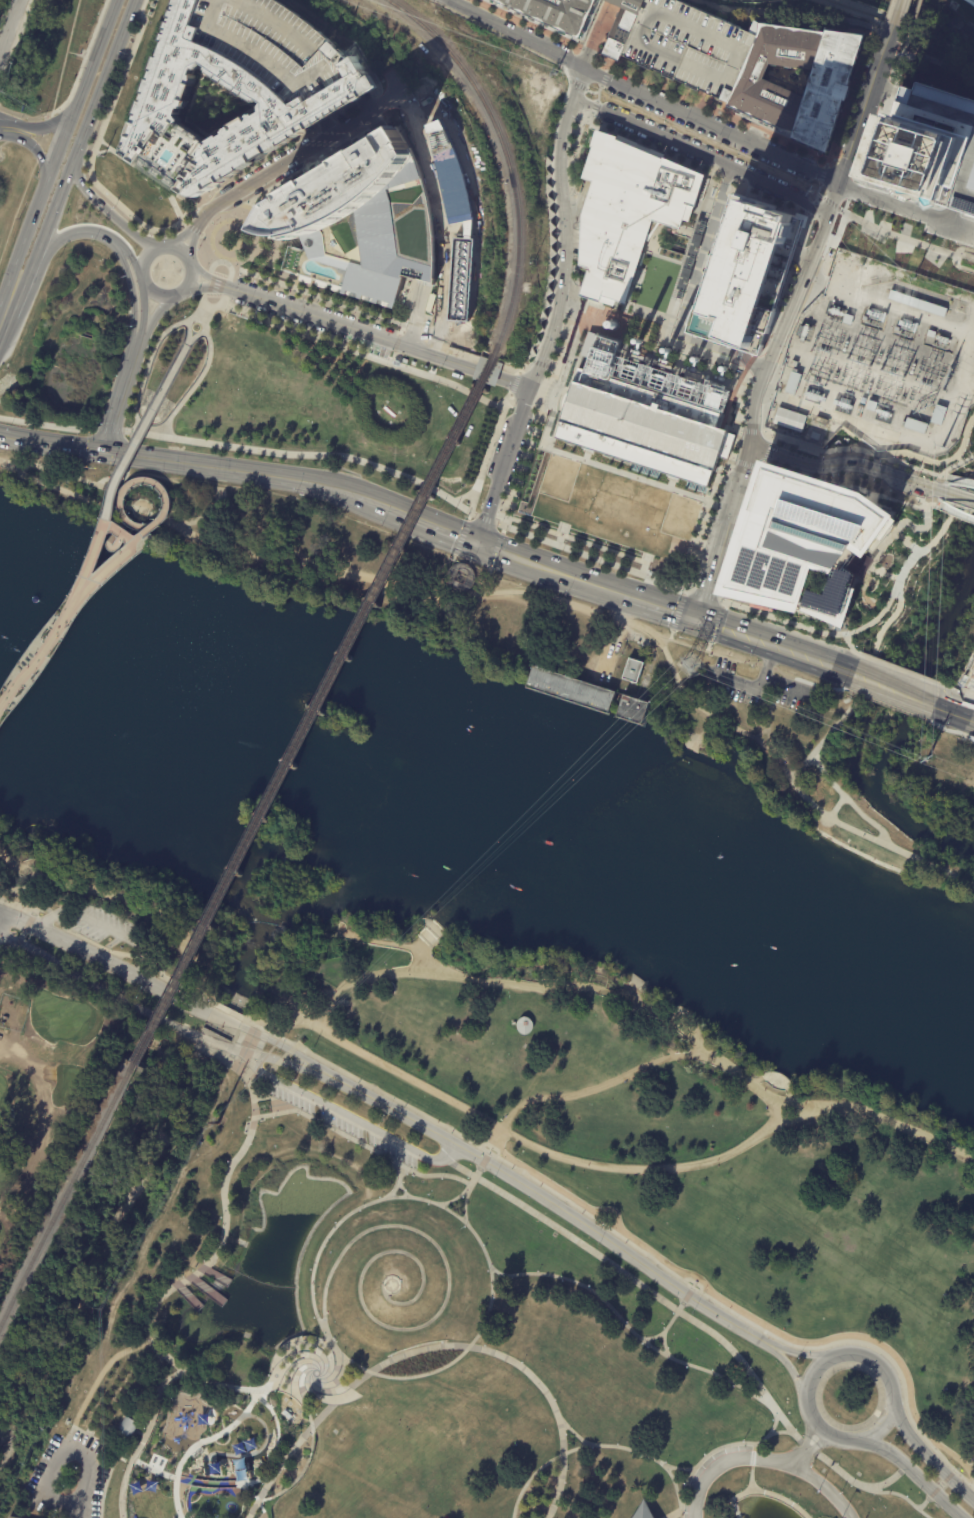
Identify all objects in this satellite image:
building: (971, 2)
road: (850, 11)
road: (887, 11)
road: (784, 12)
road: (895, 12)
building: (551, 13)
road: (911, 20)
road: (9, 23)
building: (618, 25)
road: (882, 27)
road: (910, 28)
road: (879, 31)
road: (596, 38)
building: (689, 45)
parking lot: (689, 45)
road: (910, 47)
road: (75, 54)
road: (94, 57)
road: (929, 58)
road: (359, 60)
road: (83, 61)
building: (357, 61)
road: (363, 62)
road: (610, 67)
power tower: (554, 73)
road: (874, 73)
road: (103, 79)
road: (604, 79)
road: (653, 79)
road: (569, 82)
road: (58, 83)
road: (578, 83)
road: (577, 85)
building: (759, 86)
road: (884, 86)
parking lot: (647, 88)
road: (375, 91)
road: (594, 93)
road: (641, 94)
road: (851, 95)
road: (598, 98)
building: (305, 99)
road: (361, 100)
road: (406, 104)
road: (700, 106)
road: (594, 107)
road: (343, 112)
road: (879, 112)
road: (371, 115)
road: (591, 117)
road: (325, 123)
road: (581, 123)
road: (43, 128)
road: (646, 129)
road: (5, 131)
parking lot: (707, 133)
parking lot: (752, 134)
road: (359, 136)
road: (593, 136)
road: (334, 137)
parking lot: (653, 140)
road: (104, 145)
parking lot: (700, 145)
park: (4, 147)
road: (552, 149)
building: (917, 149)
road: (337, 150)
road: (57, 151)
road: (327, 152)
road: (36, 154)
railway: (505, 158)
road: (292, 159)
road: (829, 160)
building: (963, 161)
road: (826, 164)
road: (844, 164)
road: (841, 169)
road: (857, 172)
road: (145, 174)
road: (727, 174)
road: (822, 175)
road: (716, 182)
road: (723, 184)
road: (774, 186)
road: (730, 187)
road: (434, 190)
park: (144, 191)
parking lot: (767, 191)
power tower: (810, 191)
road: (852, 191)
road: (817, 194)
road: (262, 196)
road: (181, 197)
road: (820, 197)
road: (580, 201)
road: (827, 201)
road: (893, 205)
road: (834, 206)
road: (891, 208)
road: (813, 209)
road: (126, 211)
building: (627, 211)
road: (53, 213)
road: (107, 213)
building: (456, 213)
road: (953, 215)
road: (887, 220)
building: (358, 221)
road: (184, 223)
street lamp: (857, 228)
building: (651, 229)
road: (194, 230)
road: (803, 230)
road: (884, 230)
road: (948, 231)
road: (24, 235)
road: (101, 235)
road: (895, 237)
road: (179, 239)
road: (944, 243)
road: (572, 244)
road: (655, 244)
road: (564, 245)
road: (51, 246)
road: (189, 246)
road: (962, 249)
road: (942, 250)
road: (206, 252)
road: (796, 252)
road: (642, 254)
road: (802, 255)
road: (709, 256)
road: (964, 256)
road: (662, 258)
road: (132, 261)
building: (687, 261)
power tower: (862, 265)
road: (960, 267)
road: (221, 269)
building: (746, 273)
road: (202, 274)
road: (24, 276)
road: (636, 277)
power tower: (913, 279)
road: (815, 281)
road: (216, 284)
road: (692, 285)
road: (197, 288)
road: (799, 292)
road: (312, 294)
parking lot: (227, 295)
road: (166, 298)
road: (212, 298)
road: (130, 300)
road: (440, 300)
road: (587, 301)
road: (592, 301)
road: (7, 304)
parking lot: (310, 304)
building: (918, 304)
road: (625, 305)
road: (605, 307)
road: (778, 308)
road: (142, 309)
road: (900, 309)
road: (595, 310)
road: (623, 310)
road: (204, 311)
road: (647, 313)
road: (415, 314)
road: (625, 314)
road: (155, 315)
road: (630, 316)
building: (848, 320)
chimney: (613, 325)
road: (637, 327)
parking lot: (317, 328)
road: (400, 329)
road: (201, 330)
road: (401, 332)
road: (622, 333)
building: (932, 334)
road: (373, 335)
road: (412, 335)
road: (660, 335)
road: (617, 339)
chimney: (638, 341)
road: (187, 342)
road: (139, 343)
road: (396, 343)
park: (82, 344)
road: (573, 345)
road: (581, 348)
road: (655, 350)
chimney: (667, 351)
road: (740, 351)
road: (358, 352)
road: (339, 355)
road: (393, 357)
building: (397, 358)
road: (680, 359)
road: (748, 359)
road: (477, 360)
chimney: (695, 360)
power substation: (878, 361)
railway: (750, 362)
road: (336, 363)
road: (540, 364)
road: (360, 367)
road: (146, 368)
road: (551, 368)
road: (668, 368)
chimney: (722, 369)
road: (518, 372)
road: (128, 376)
road: (733, 376)
road: (558, 377)
building: (793, 383)
road: (514, 384)
road: (193, 385)
road: (543, 392)
road: (737, 395)
road: (552, 396)
power tower: (972, 396)
road: (554, 397)
railway: (731, 398)
road: (559, 399)
road: (561, 399)
building: (564, 400)
road: (566, 401)
road: (764, 402)
park: (314, 404)
road: (752, 404)
building: (872, 407)
building: (860, 410)
road: (827, 413)
building: (645, 414)
building: (938, 416)
road: (550, 418)
building: (790, 420)
road: (47, 426)
road: (112, 426)
road: (723, 426)
building: (914, 426)
road: (405, 427)
road: (730, 428)
road: (109, 430)
road: (740, 431)
road: (751, 431)
road: (132, 438)
road: (772, 440)
road: (20, 441)
road: (490, 446)
parking lot: (498, 446)
parking lot: (519, 446)
power tower: (942, 447)
road: (72, 449)
road: (588, 450)
road: (768, 451)
traffic signals: (103, 453)
road: (126, 455)
road: (306, 455)
road: (586, 457)
road: (971, 457)
road: (124, 459)
road: (966, 459)
road: (732, 460)
road: (922, 460)
road: (958, 460)
road: (938, 462)
road: (503, 463)
road: (758, 463)
road: (960, 463)
road: (743, 464)
road: (846, 464)
road: (0, 465)
road: (206, 466)
road: (954, 467)
road: (920, 468)
road: (615, 471)
road: (945, 472)
road: (672, 477)
road: (717, 478)
road: (850, 478)
road: (112, 479)
road: (941, 480)
road: (959, 480)
road: (669, 484)
road: (843, 484)
road: (94, 485)
parking lot: (906, 489)
road: (938, 490)
road: (121, 492)
parking lot: (722, 492)
road: (957, 496)
road: (462, 498)
road: (935, 500)
road: (92, 503)
road: (119, 506)
road: (926, 507)
road: (394, 508)
road: (471, 509)
road: (118, 510)
road: (954, 512)
road: (742, 513)
road: (338, 514)
road: (926, 517)
road: (204, 519)
road: (486, 519)
road: (725, 520)
road: (125, 521)
road: (155, 521)
road: (124, 522)
road: (904, 522)
road: (563, 524)
road: (925, 526)
road: (147, 527)
road: (262, 528)
road: (914, 528)
road: (503, 530)
road: (117, 533)
road: (737, 534)
road: (936, 535)
road: (461, 538)
road: (558, 538)
road: (575, 539)
traffic signals: (478, 540)
road: (904, 541)
parking lot: (707, 542)
building: (807, 546)
road: (109, 548)
road: (879, 548)
road: (495, 551)
road: (647, 554)
road: (453, 557)
road: (592, 558)
road: (854, 560)
road: (554, 565)
road: (643, 567)
road: (323, 568)
road: (488, 570)
road: (875, 570)
road: (894, 578)
road: (727, 579)
road: (732, 582)
road: (86, 583)
road: (745, 590)
road: (684, 591)
road: (850, 591)
road: (505, 595)
road: (704, 595)
road: (663, 603)
road: (723, 604)
road: (760, 604)
road: (699, 605)
road: (796, 606)
road: (677, 612)
road: (607, 614)
traffic signals: (696, 615)
road: (716, 624)
road: (813, 630)
road: (845, 631)
park: (507, 633)
road: (671, 634)
road: (614, 638)
road: (775, 643)
road: (708, 646)
road: (849, 646)
road: (651, 655)
road: (740, 661)
power tower: (690, 663)
road: (901, 670)
building: (633, 671)
road: (968, 681)
building: (972, 681)
road: (677, 683)
road: (781, 683)
building: (569, 687)
road: (894, 687)
road: (756, 689)
road: (957, 691)
road: (887, 705)
building: (632, 708)
road: (954, 708)
railway: (313, 710)
road: (768, 714)
road: (835, 726)
road: (950, 730)
road: (760, 732)
road: (755, 739)
power tower: (924, 759)
road: (801, 767)
park: (936, 774)
river: (486, 801)
road: (836, 806)
road: (876, 840)
road: (22, 888)
road: (118, 896)
road: (26, 909)
road: (33, 914)
road: (53, 914)
road: (52, 916)
road: (16, 920)
road: (28, 924)
parking lot: (102, 926)
road: (106, 928)
road: (435, 928)
road: (443, 932)
road: (23, 935)
road: (19, 942)
road: (434, 942)
road: (392, 943)
road: (95, 944)
road: (9, 949)
road: (426, 950)
road: (142, 960)
road: (142, 962)
road: (121, 970)
road: (362, 976)
road: (171, 980)
pier: (636, 980)
road: (97, 986)
road: (200, 997)
road: (630, 999)
road: (228, 1011)
road: (267, 1015)
road: (224, 1020)
park: (74, 1022)
road: (254, 1024)
building: (524, 1027)
road: (265, 1032)
road: (263, 1036)
road: (248, 1040)
road: (211, 1042)
road: (234, 1048)
road: (291, 1050)
road: (283, 1063)
road: (778, 1080)
road: (598, 1085)
park: (45, 1086)
road: (253, 1088)
park: (0, 1096)
road: (254, 1105)
road: (349, 1117)
park: (605, 1117)
road: (882, 1117)
parking lot: (341, 1120)
power tower: (216, 1123)
road: (497, 1139)
road: (490, 1146)
road: (532, 1146)
road: (380, 1154)
road: (484, 1160)
road: (459, 1167)
road: (227, 1170)
road: (398, 1181)
park: (0, 1182)
road: (393, 1190)
road: (465, 1191)
railway: (67, 1195)
road: (464, 1206)
road: (557, 1207)
road: (611, 1212)
park: (95, 1229)
road: (618, 1234)
road: (203, 1268)
road: (197, 1273)
pier: (213, 1274)
road: (191, 1277)
road: (696, 1279)
road: (184, 1281)
road: (498, 1281)
road: (176, 1285)
pier: (205, 1288)
road: (691, 1288)
pier: (185, 1293)
road: (686, 1296)
road: (155, 1302)
road: (679, 1307)
power tower: (102, 1309)
road: (628, 1328)
road: (664, 1331)
road: (715, 1335)
road: (652, 1338)
road: (329, 1339)
road: (289, 1342)
park: (405, 1342)
road: (337, 1345)
road: (799, 1353)
road: (843, 1353)
road: (522, 1369)
road: (791, 1369)
fountain: (315, 1371)
road: (170, 1376)
road: (211, 1381)
road: (287, 1388)
park: (848, 1396)
road: (338, 1398)
road: (149, 1422)
road: (773, 1424)
building: (130, 1427)
road: (278, 1430)
road: (574, 1433)
road: (772, 1433)
road: (807, 1436)
road: (311, 1439)
road: (101, 1442)
road: (200, 1443)
road: (818, 1445)
road: (591, 1446)
road: (753, 1447)
road: (248, 1452)
road: (59, 1455)
road: (926, 1455)
road: (955, 1456)
road: (752, 1457)
road: (764, 1459)
road: (799, 1460)
road: (281, 1462)
road: (699, 1463)
road: (950, 1466)
road: (677, 1469)
road: (911, 1471)
road: (954, 1472)
parking lot: (68, 1477)
road: (751, 1478)
road: (885, 1482)
road: (105, 1483)
road: (200, 1483)
road: (940, 1485)
road: (760, 1491)
flagpole: (816, 1493)
road: (923, 1504)
road: (734, 1508)
road: (252, 1509)
building: (642, 1512)
road: (79, 1513)
road: (674, 1515)
building: (10, 1517)
flagpole: (840, 1517)

